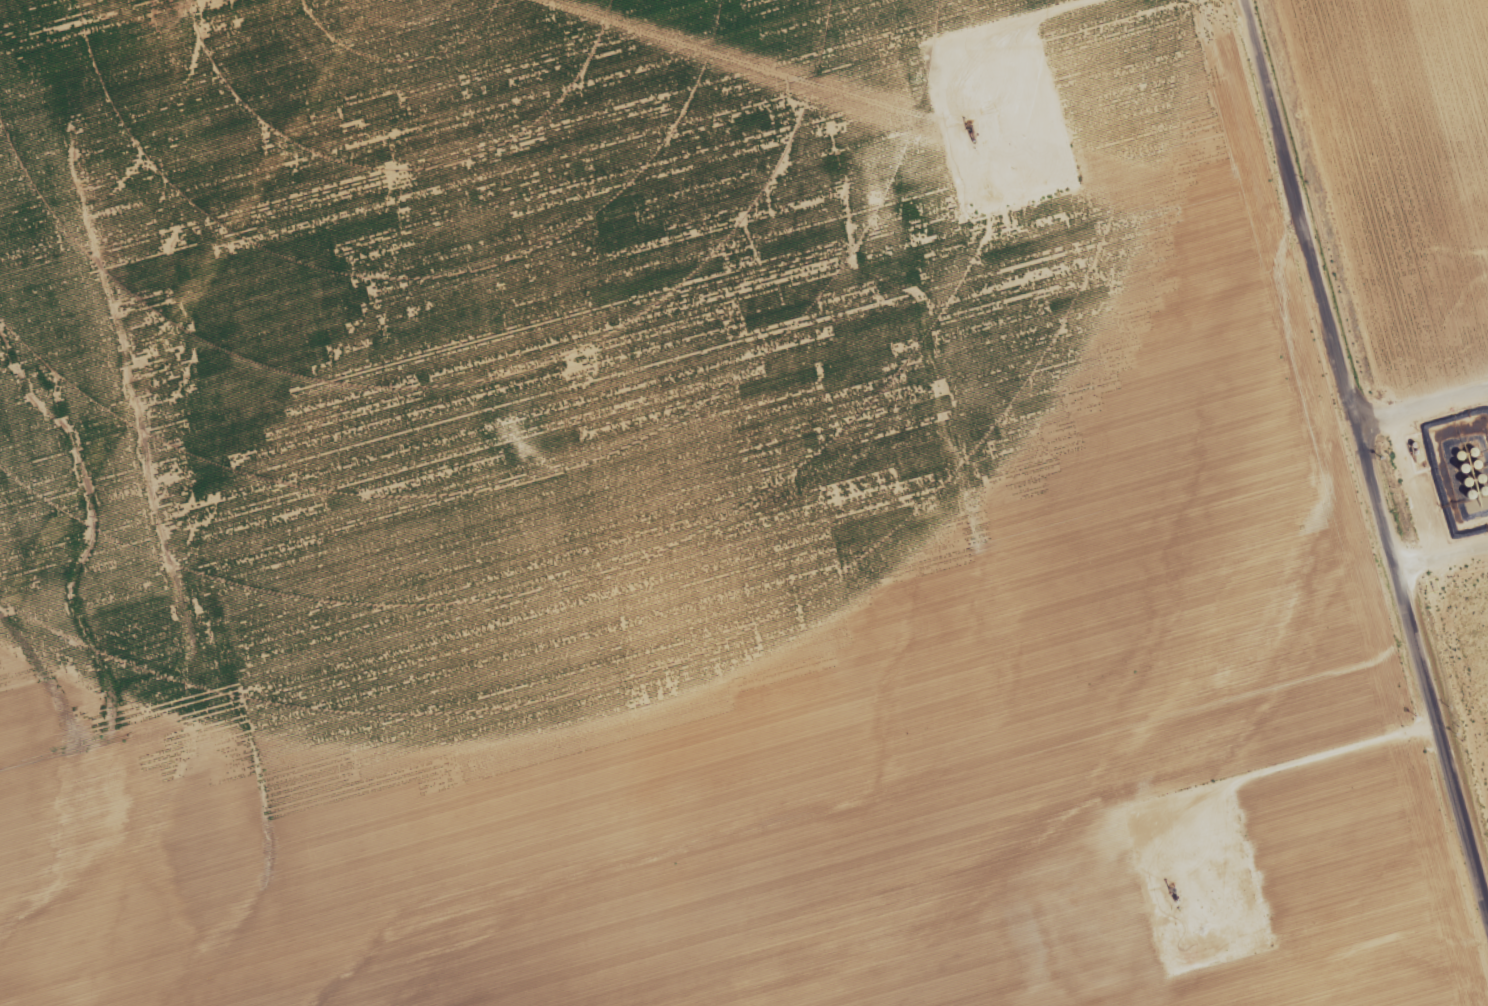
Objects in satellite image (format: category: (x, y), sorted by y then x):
road: (1364, 482)

